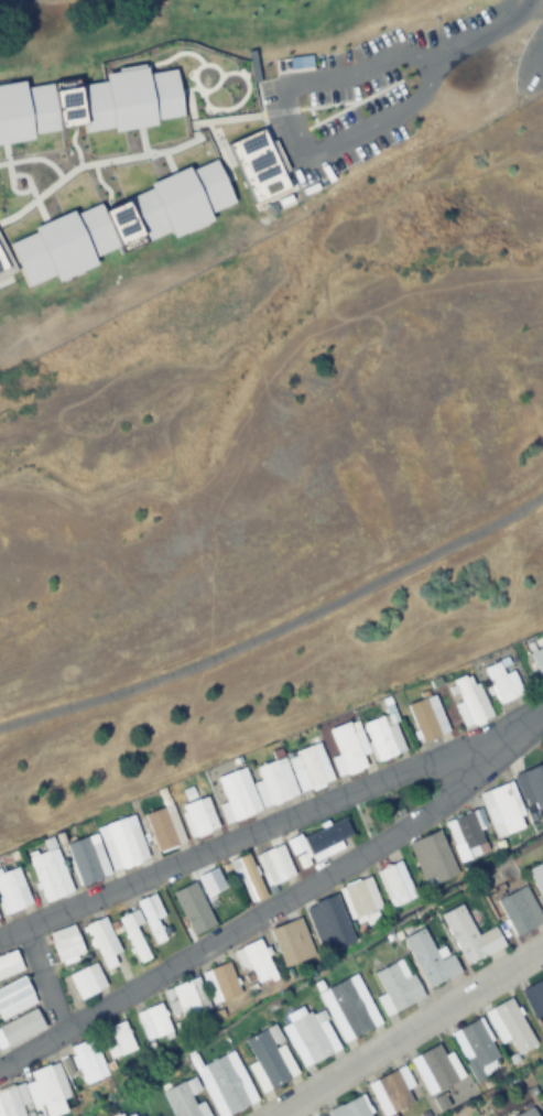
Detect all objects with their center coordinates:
road: (67, 144)
road: (282, 171)
building: (7, 248)
park: (275, 484)
road: (280, 629)
building: (542, 638)
building: (539, 658)
building: (502, 681)
building: (470, 701)
building: (427, 718)
building: (365, 743)
building: (312, 768)
building: (274, 783)
building: (531, 784)
building: (237, 797)
building: (502, 809)
building: (198, 817)
building: (161, 830)
building: (465, 836)
road: (240, 838)
building: (317, 842)
building: (122, 843)
building: (433, 858)
building: (87, 859)
building: (274, 865)
building: (50, 873)
building: (537, 877)
building: (250, 878)
building: (395, 884)
building: (12, 891)
road: (281, 899)
building: (360, 900)
building: (520, 910)
building: (152, 917)
building: (324, 918)
building: (134, 936)
building: (470, 936)
building: (291, 943)
building: (104, 944)
building: (66, 945)
building: (431, 960)
building: (256, 961)
building: (8, 963)
road: (53, 975)
building: (87, 982)
building: (220, 984)
building: (397, 985)
building: (534, 997)
building: (14, 998)
building: (186, 998)
building: (349, 1008)
building: (153, 1022)
building: (509, 1026)
building: (22, 1028)
road: (409, 1031)
building: (309, 1036)
building: (119, 1040)
building: (473, 1043)
building: (269, 1059)
building: (88, 1062)
building: (435, 1069)
building: (225, 1084)
building: (391, 1091)
building: (36, 1095)
building: (183, 1101)
building: (350, 1108)
building: (528, 1113)

